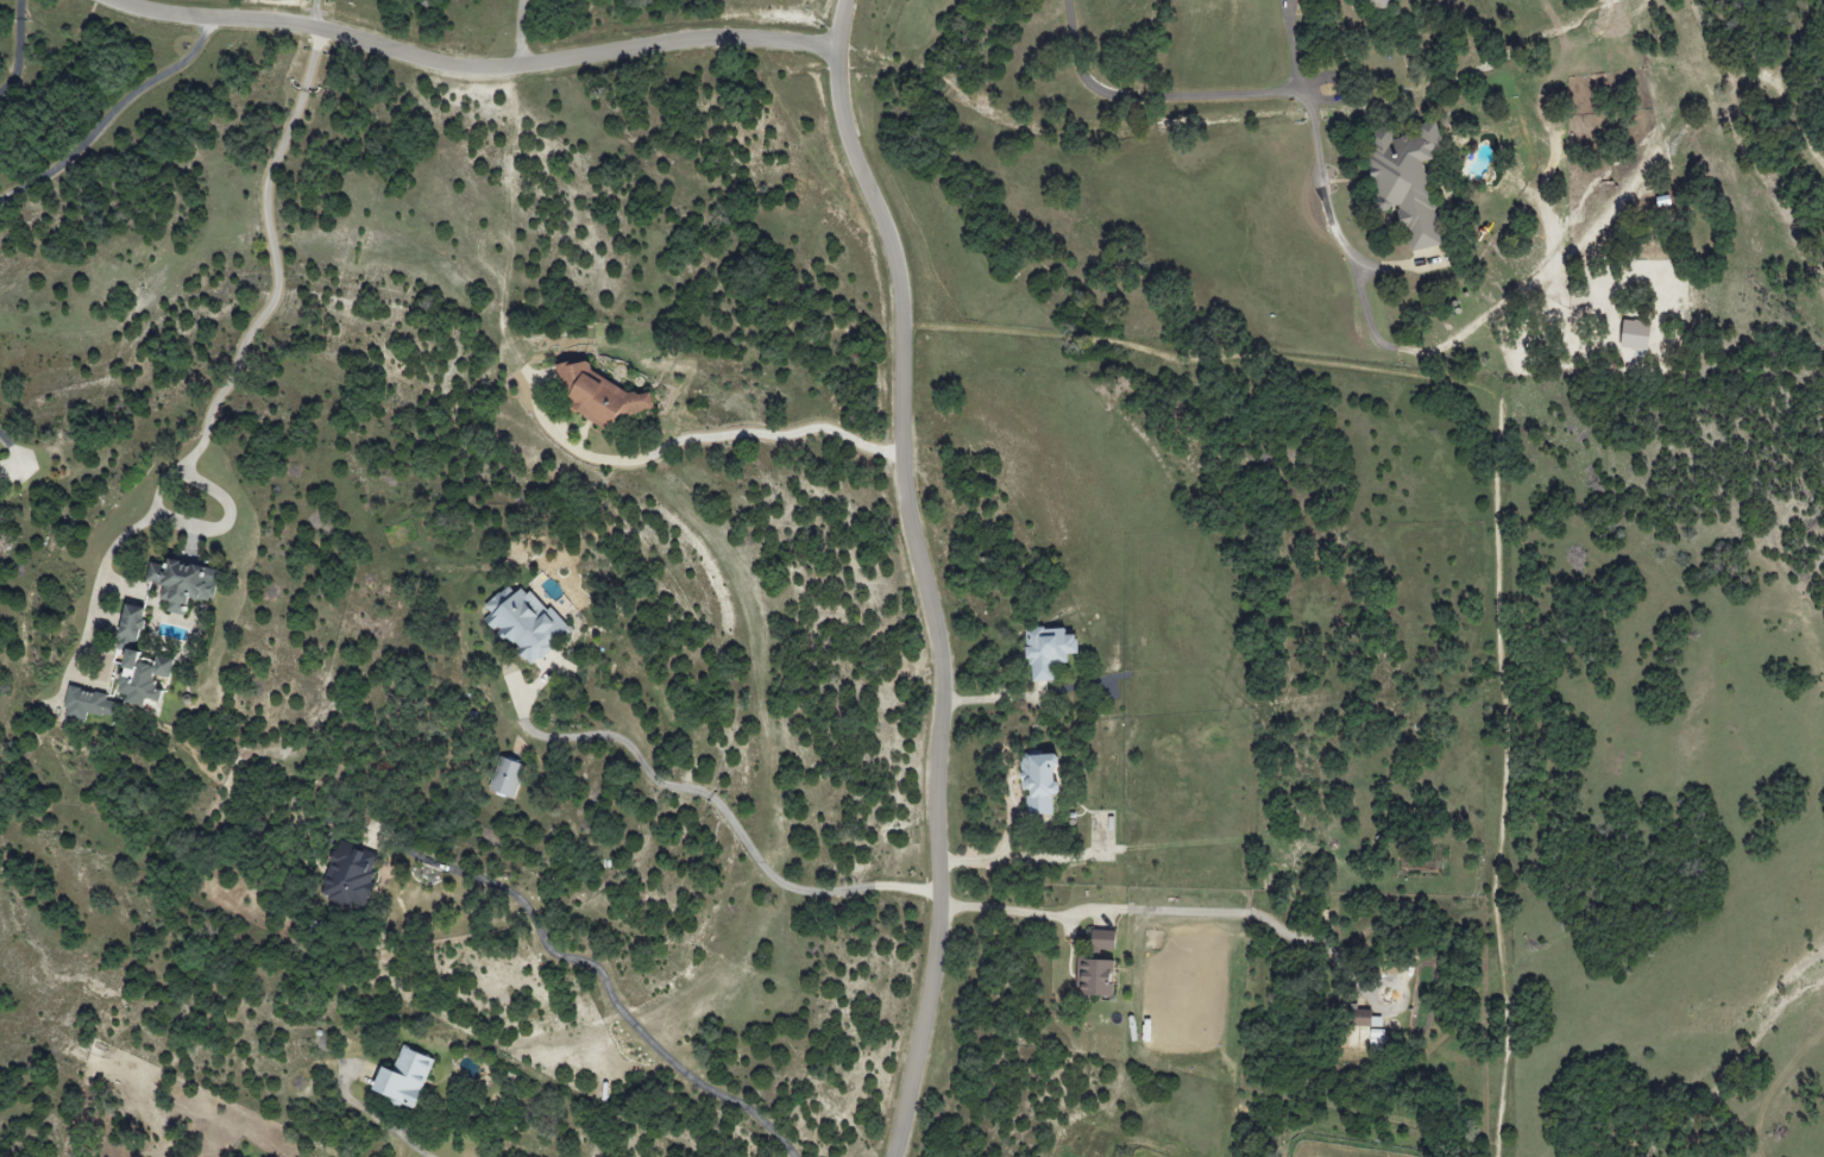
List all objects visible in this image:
building: (1371, 4)
road: (842, 25)
road: (521, 34)
road: (1292, 42)
road: (17, 45)
road: (466, 73)
road: (1257, 86)
road: (107, 111)
building: (1405, 180)
road: (278, 285)
building: (1635, 335)
building: (598, 395)
road: (746, 434)
road: (6, 439)
road: (1495, 472)
building: (182, 581)
road: (930, 600)
building: (524, 623)
building: (1048, 652)
building: (138, 660)
building: (89, 704)
building: (505, 776)
building: (1038, 782)
road: (722, 810)
building: (350, 876)
road: (1215, 912)
road: (600, 977)
building: (1364, 1019)
building: (403, 1076)

